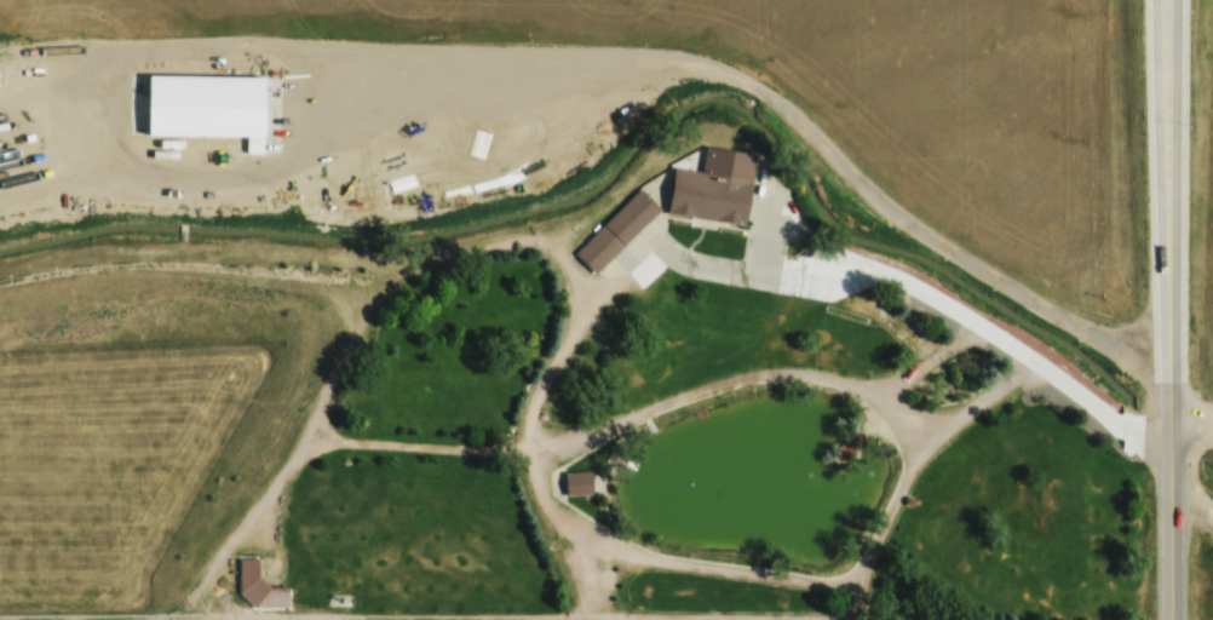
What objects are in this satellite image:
building: (713, 188)
road: (1167, 188)
building: (616, 230)
road: (414, 260)
building: (1171, 270)
road: (772, 317)
road: (1013, 374)
road: (1105, 398)
road: (656, 406)
road: (1192, 407)
building: (846, 446)
road: (303, 450)
building: (577, 481)
road: (1194, 494)
road: (1173, 498)
road: (562, 528)
road: (719, 566)
building: (258, 586)
road: (553, 618)

